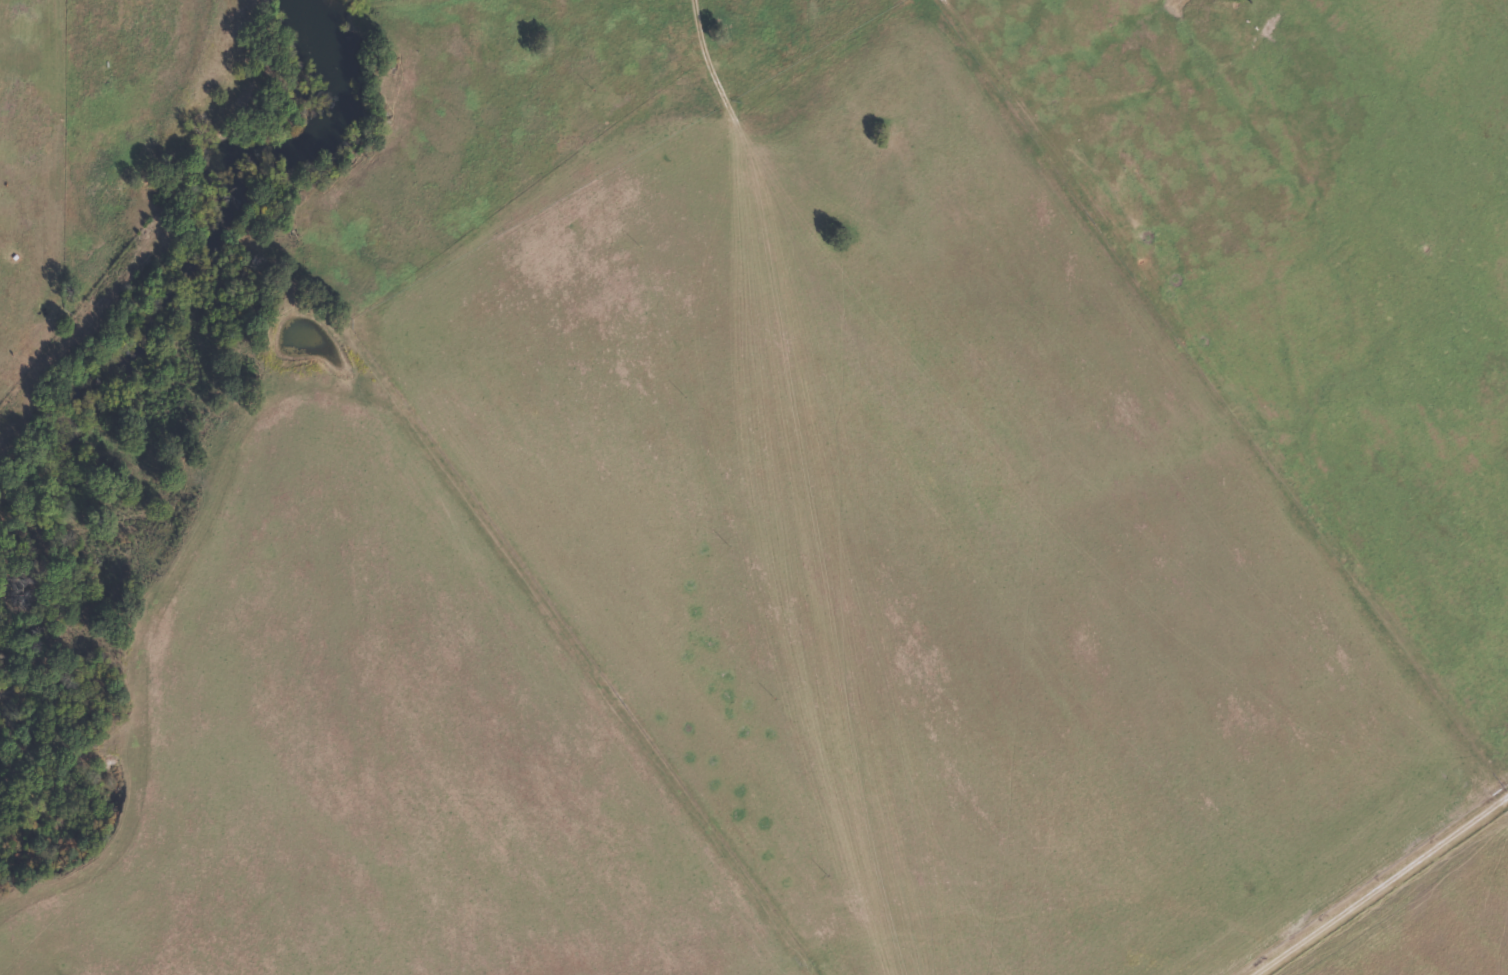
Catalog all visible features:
road: (1380, 883)

